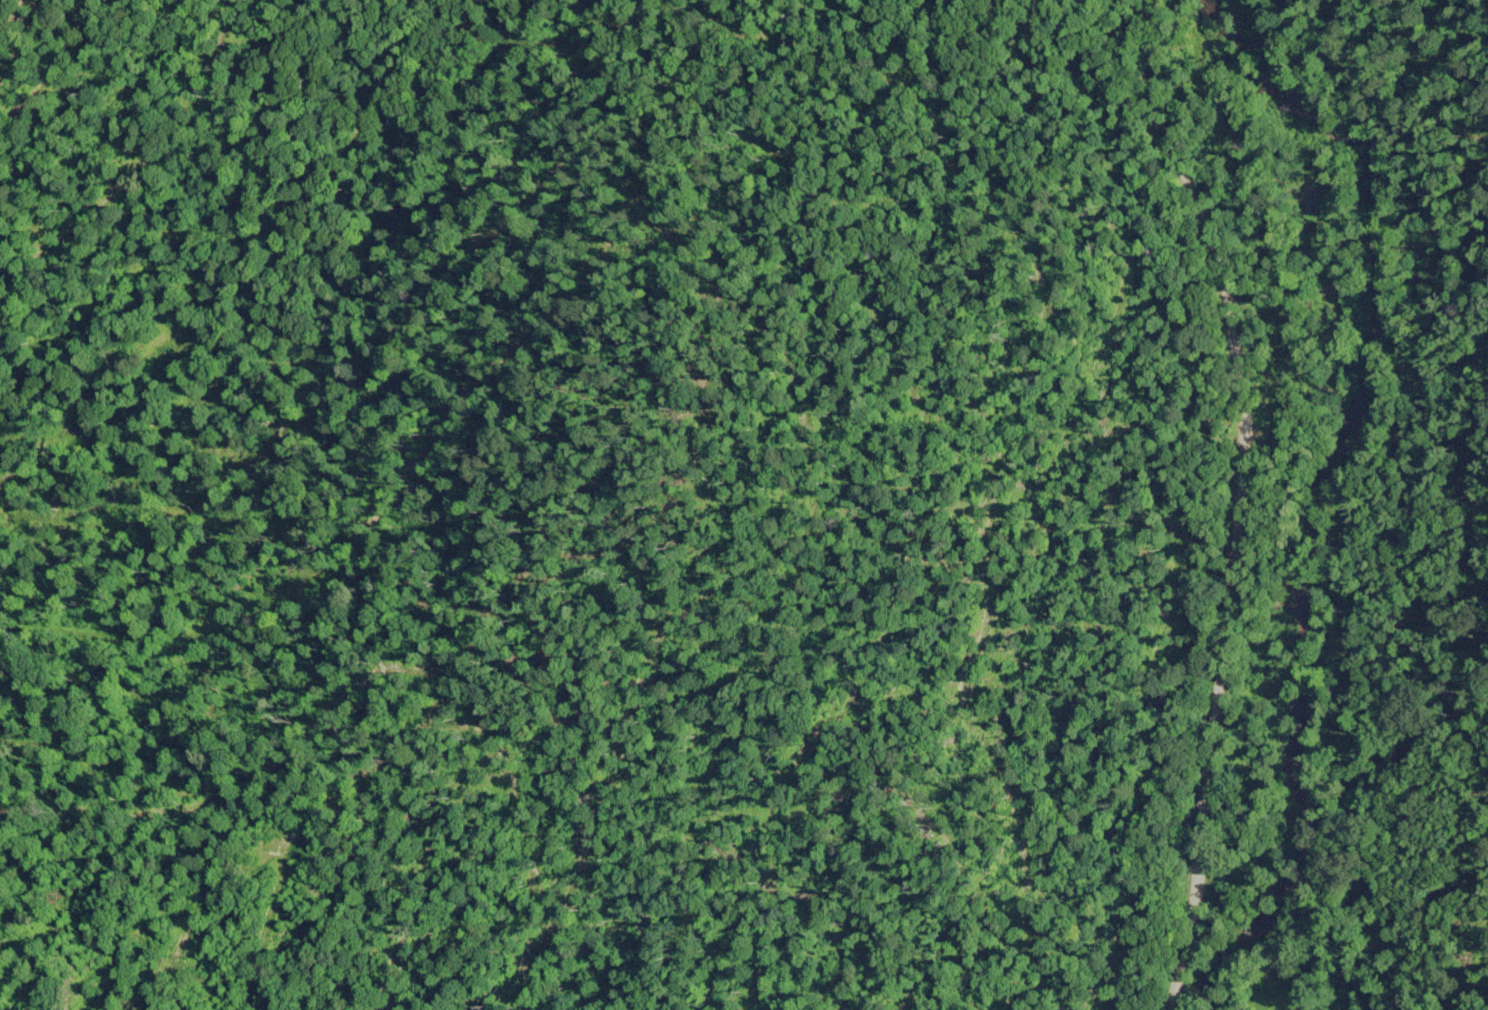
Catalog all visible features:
road: (1232, 317)
road: (1197, 841)

